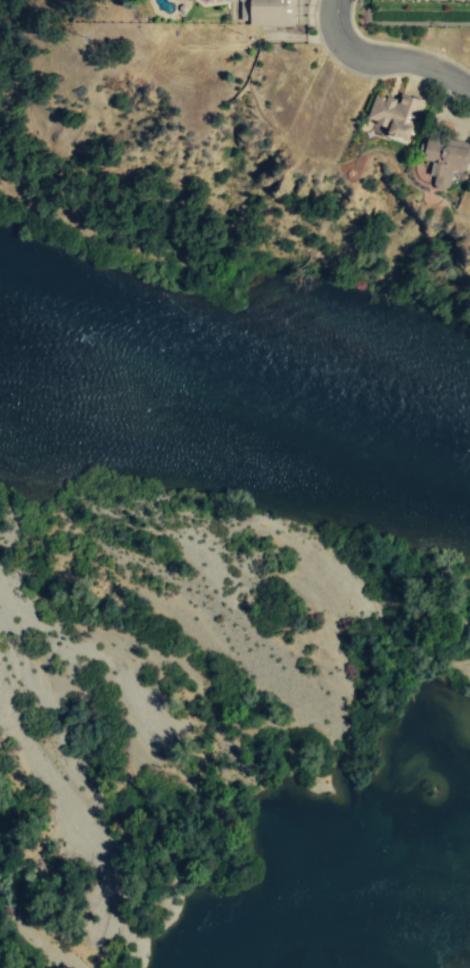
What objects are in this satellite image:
building: (267, 12)
road: (386, 58)
building: (393, 116)
building: (446, 160)
river: (235, 392)

